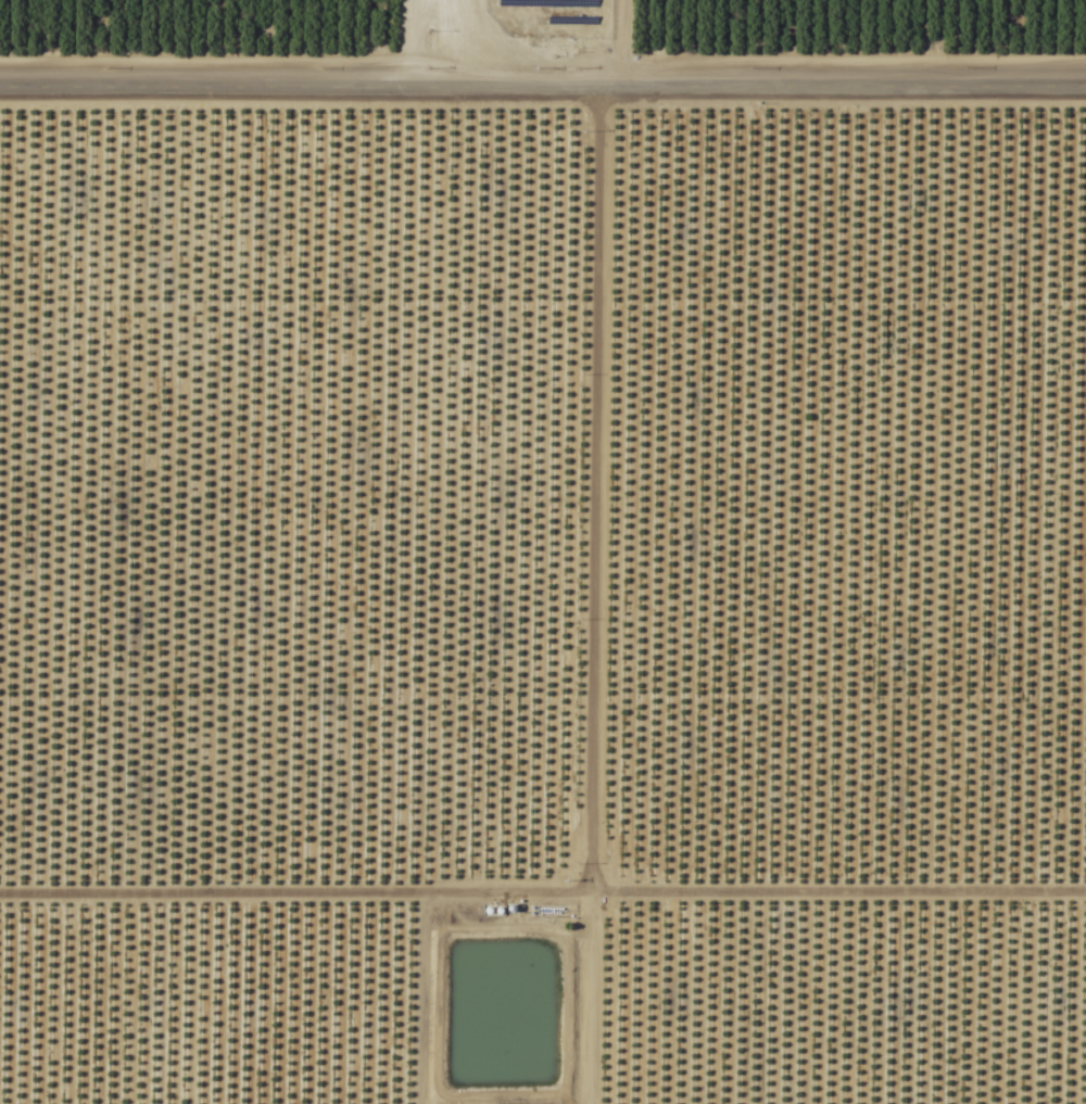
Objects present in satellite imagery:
building: (447, 29)
road: (920, 45)
road: (542, 90)
crop: (543, 551)

